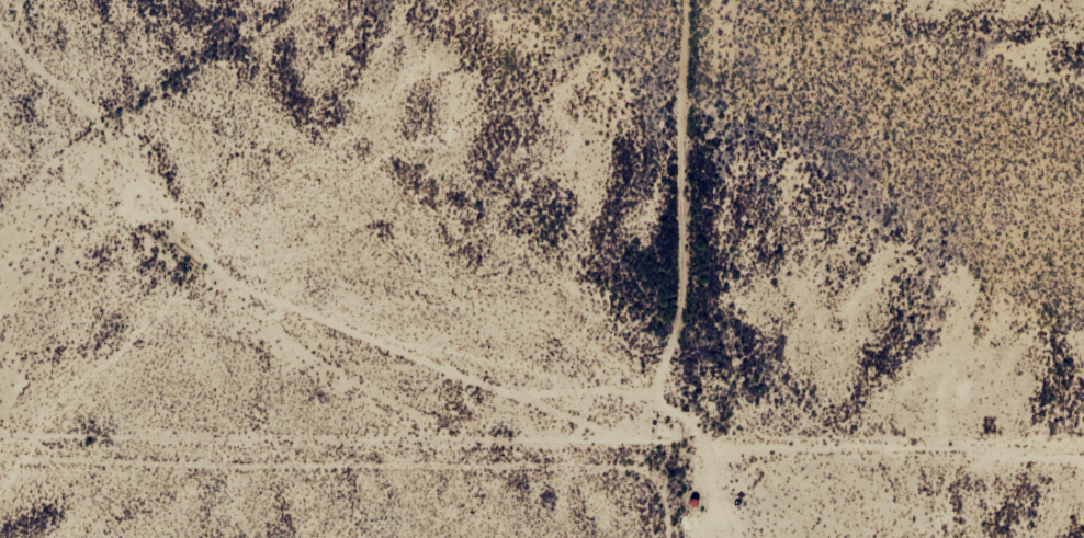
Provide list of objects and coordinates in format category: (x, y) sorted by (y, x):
road: (670, 268)
road: (541, 462)

